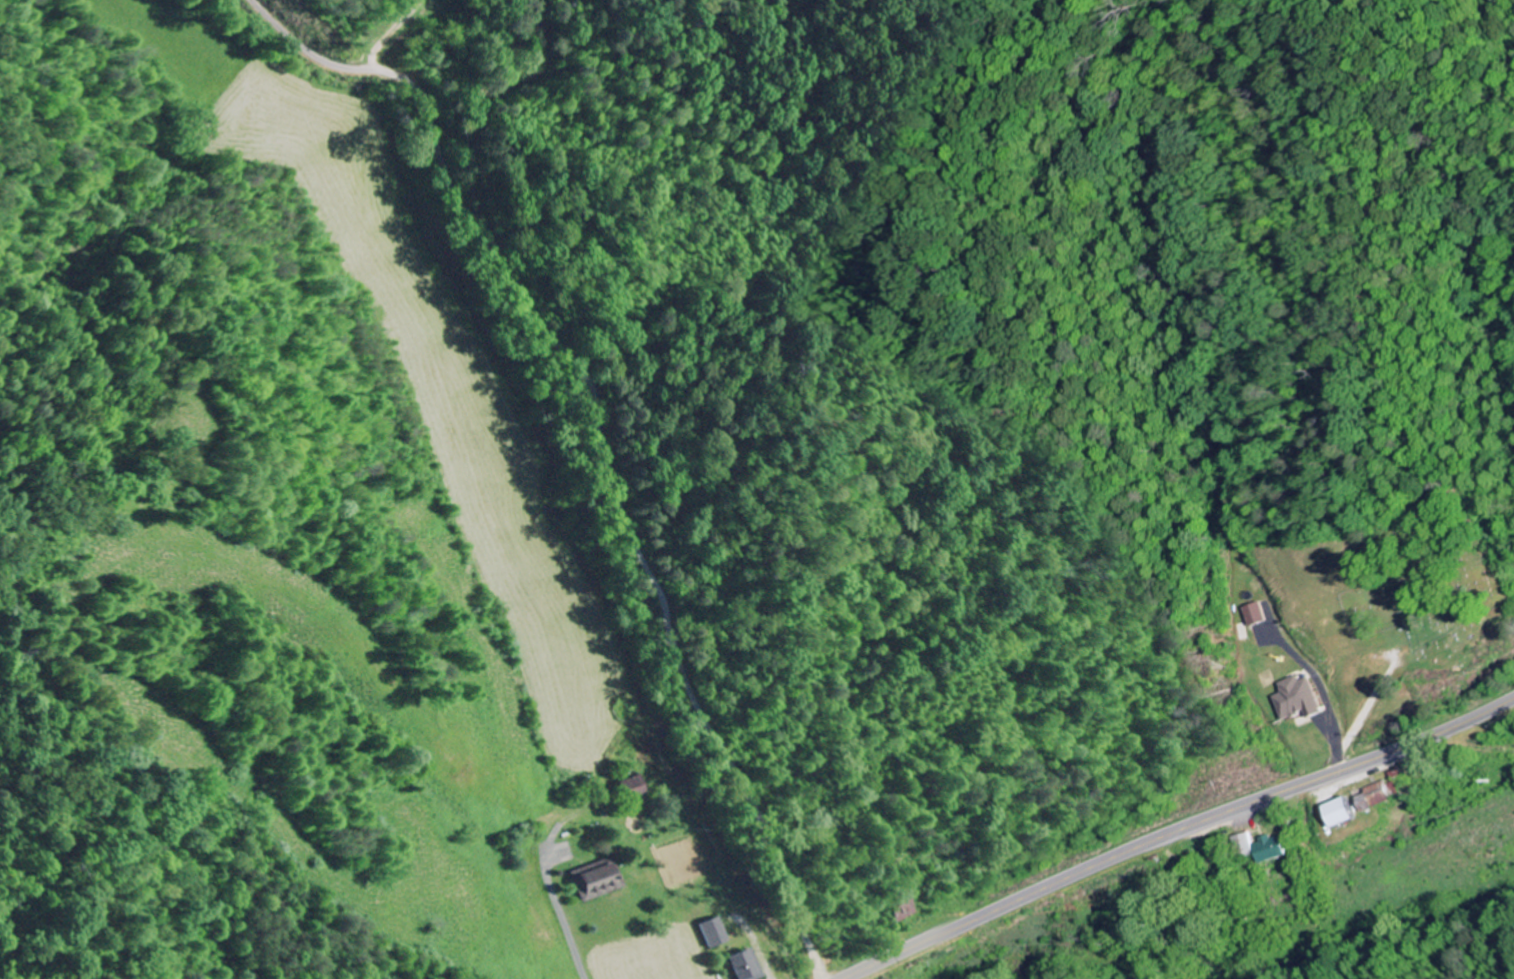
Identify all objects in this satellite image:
road: (474, 113)
road: (602, 434)
park: (1423, 586)
building: (1251, 614)
building: (1297, 698)
road: (1365, 712)
building: (635, 786)
building: (1379, 795)
building: (1343, 812)
road: (1176, 829)
building: (1246, 844)
building: (1271, 849)
building: (601, 879)
building: (717, 932)
building: (750, 965)
road: (454, 972)

